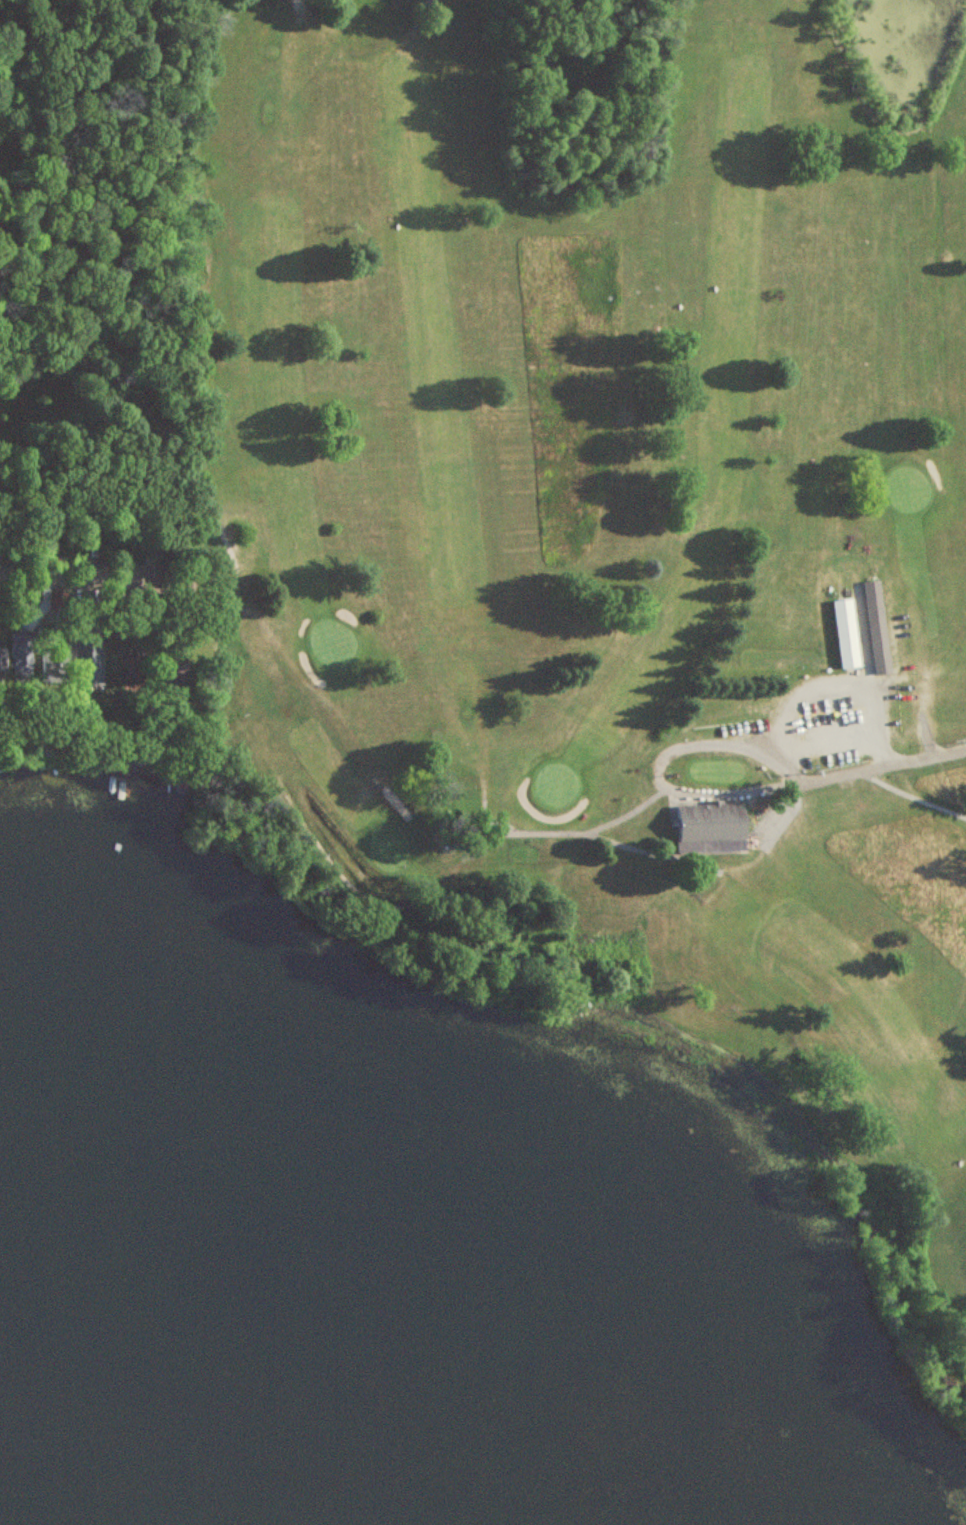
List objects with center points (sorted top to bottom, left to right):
park: (617, 520)
road: (67, 572)
building: (876, 628)
building: (845, 634)
building: (20, 657)
parking lot: (833, 722)
road: (887, 761)
road: (656, 766)
building: (714, 820)

